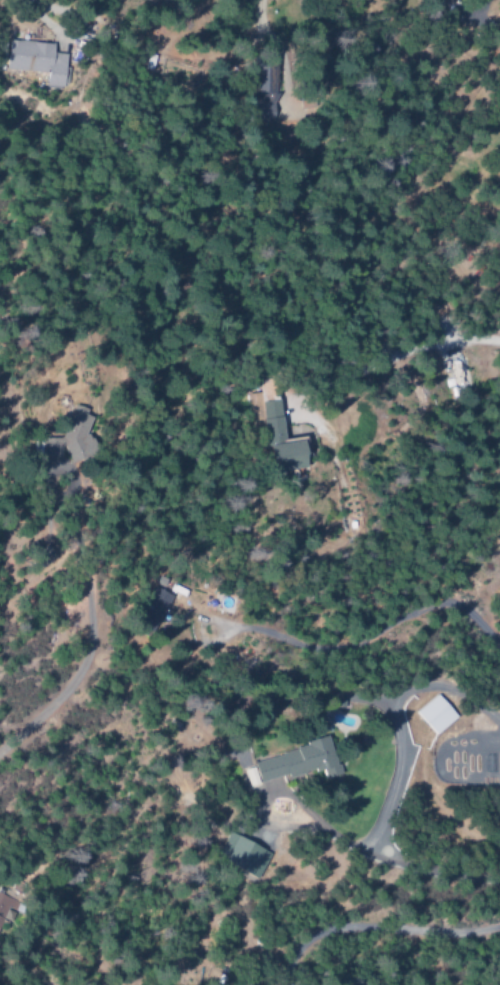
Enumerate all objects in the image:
building: (424, 0)
road: (27, 3)
road: (257, 17)
building: (37, 62)
building: (272, 86)
building: (77, 429)
building: (282, 441)
building: (47, 448)
building: (176, 588)
building: (162, 604)
road: (350, 643)
building: (436, 714)
building: (300, 765)
building: (252, 857)
road: (387, 858)

